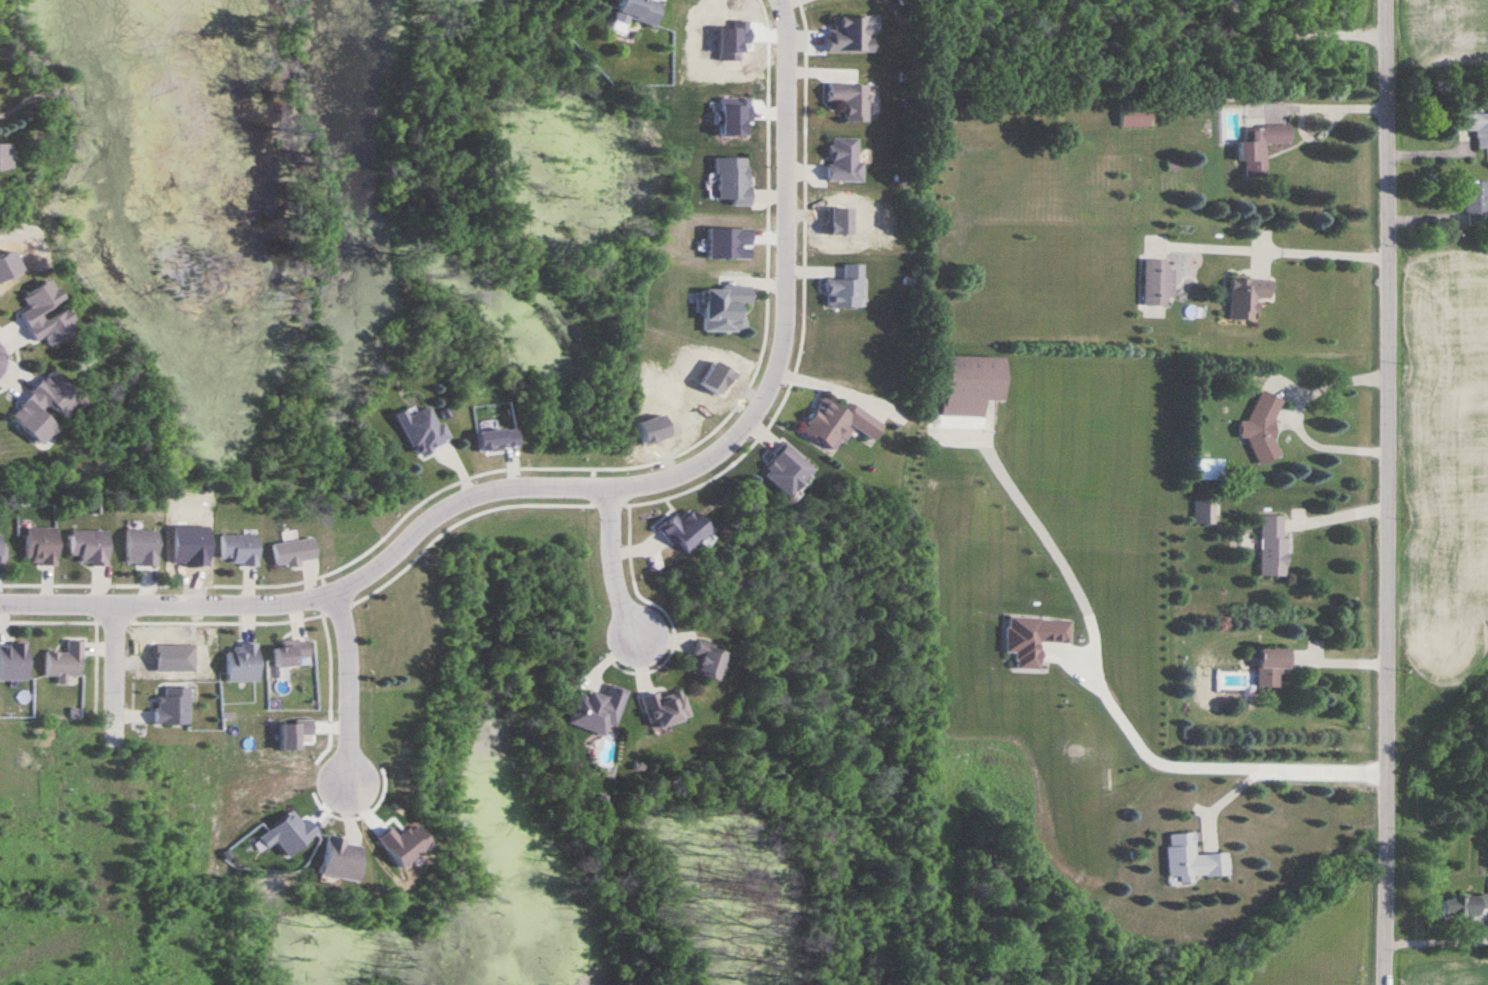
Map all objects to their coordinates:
building: (642, 10)
road: (1313, 26)
building: (851, 35)
building: (852, 100)
road: (1306, 103)
building: (1136, 117)
building: (1475, 127)
building: (1261, 146)
building: (6, 158)
building: (845, 161)
building: (733, 180)
building: (1476, 203)
road: (1322, 252)
building: (1159, 281)
building: (846, 288)
building: (1248, 296)
building: (726, 307)
building: (54, 328)
road: (1, 351)
building: (972, 384)
building: (47, 405)
building: (840, 423)
building: (1264, 424)
building: (423, 430)
road: (1332, 448)
road: (979, 452)
building: (788, 471)
road: (581, 484)
road: (1388, 492)
building: (1205, 511)
road: (1335, 511)
building: (686, 531)
building: (1273, 545)
building: (41, 546)
building: (90, 546)
building: (142, 547)
building: (240, 549)
building: (294, 552)
building: (2, 553)
road: (612, 564)
building: (292, 653)
building: (710, 660)
building: (13, 661)
building: (65, 662)
building: (242, 663)
building: (1272, 665)
road: (115, 671)
road: (346, 686)
building: (173, 706)
building: (665, 708)
building: (599, 709)
road: (1198, 760)
building: (342, 859)
building: (1194, 859)
building: (1463, 905)

